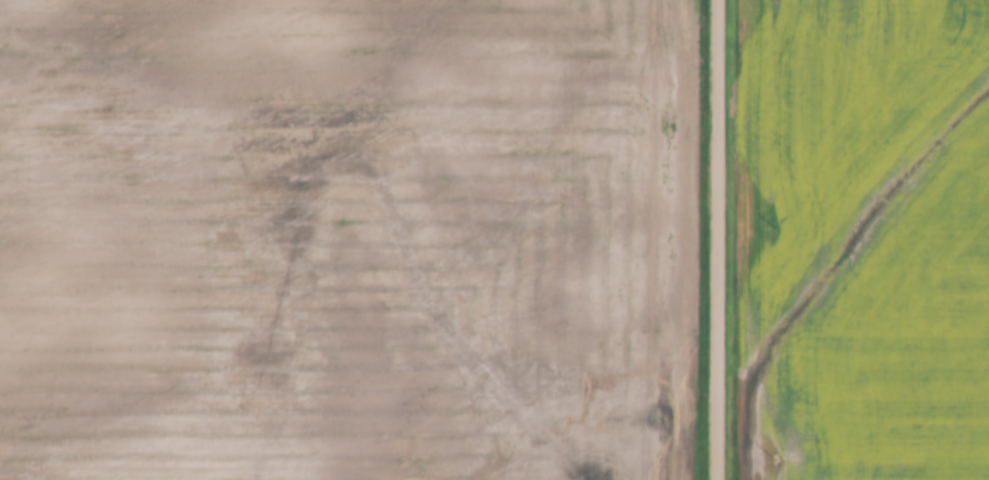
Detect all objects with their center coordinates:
road: (723, 240)

